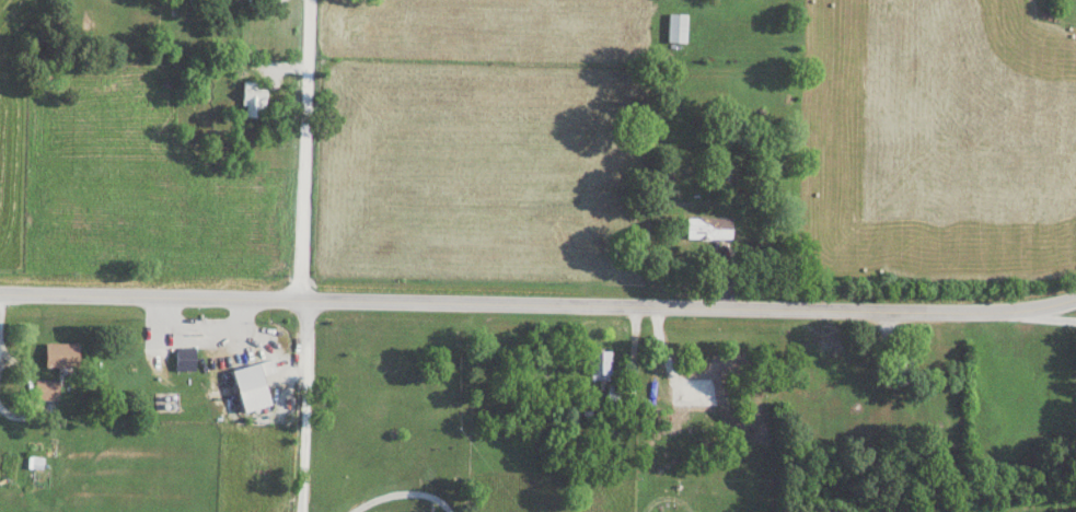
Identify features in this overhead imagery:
building: (676, 28)
building: (254, 98)
road: (304, 149)
building: (708, 228)
road: (539, 303)
road: (1050, 318)
road: (196, 344)
building: (61, 354)
building: (196, 359)
building: (599, 364)
building: (46, 388)
road: (303, 406)
building: (35, 462)

